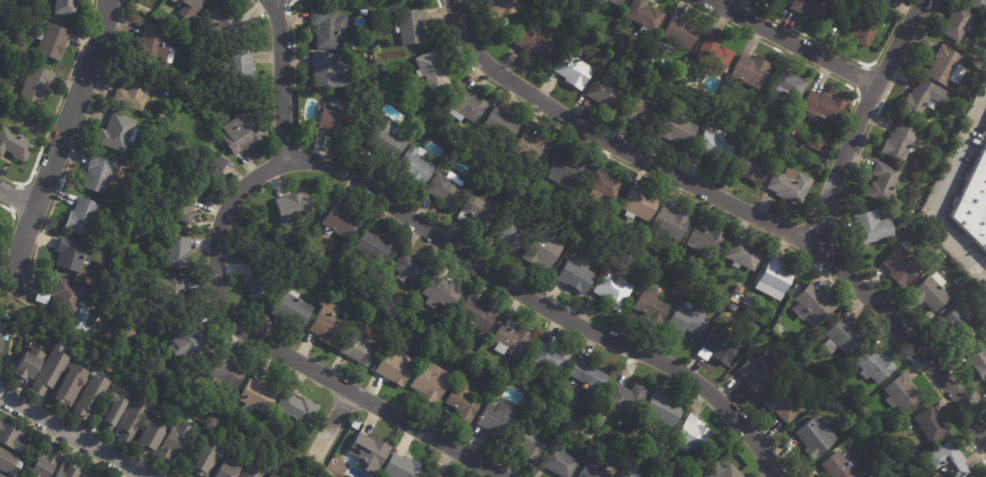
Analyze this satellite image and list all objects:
building: (776, 0)
building: (779, 0)
building: (883, 0)
building: (881, 1)
building: (600, 2)
building: (614, 2)
building: (975, 4)
building: (186, 7)
building: (496, 7)
building: (807, 7)
building: (67, 8)
road: (257, 8)
road: (275, 11)
building: (361, 13)
building: (156, 14)
building: (644, 16)
building: (222, 19)
building: (958, 25)
building: (323, 26)
building: (409, 26)
building: (856, 26)
building: (679, 33)
building: (577, 34)
building: (609, 37)
building: (54, 41)
road: (293, 41)
road: (792, 42)
building: (532, 44)
building: (344, 45)
building: (150, 47)
road: (835, 50)
building: (975, 50)
building: (613, 53)
building: (713, 54)
road: (799, 60)
building: (650, 62)
building: (237, 66)
building: (978, 66)
building: (944, 67)
building: (321, 68)
building: (429, 69)
building: (570, 70)
building: (749, 72)
building: (162, 75)
building: (674, 77)
road: (281, 80)
building: (683, 80)
building: (39, 85)
building: (786, 87)
building: (130, 89)
road: (856, 92)
building: (601, 93)
building: (919, 99)
building: (463, 104)
road: (57, 105)
building: (185, 105)
building: (821, 108)
building: (639, 110)
building: (25, 112)
building: (337, 117)
road: (874, 117)
road: (858, 118)
building: (500, 124)
building: (674, 130)
building: (115, 131)
building: (238, 134)
building: (383, 137)
building: (897, 143)
building: (16, 146)
building: (713, 147)
road: (56, 148)
building: (531, 148)
road: (72, 152)
building: (208, 163)
building: (410, 164)
building: (747, 168)
building: (565, 171)
building: (96, 174)
road: (46, 176)
building: (881, 182)
building: (603, 183)
building: (442, 187)
building: (788, 187)
road: (940, 191)
road: (14, 196)
road: (16, 199)
building: (973, 202)
building: (637, 204)
road: (728, 204)
building: (181, 205)
building: (291, 206)
building: (566, 208)
building: (475, 210)
road: (722, 214)
building: (77, 215)
building: (339, 222)
building: (670, 222)
building: (1, 225)
building: (871, 228)
building: (509, 232)
road: (7, 235)
building: (704, 240)
building: (372, 246)
building: (274, 249)
building: (542, 249)
building: (174, 252)
building: (69, 254)
building: (742, 254)
building: (286, 255)
road: (826, 255)
building: (675, 266)
building: (900, 266)
building: (408, 267)
building: (574, 276)
building: (773, 278)
building: (255, 287)
building: (166, 288)
building: (610, 288)
building: (674, 290)
building: (438, 291)
building: (927, 295)
building: (39, 297)
building: (67, 297)
building: (359, 298)
building: (383, 298)
building: (746, 298)
building: (811, 303)
road: (539, 304)
building: (649, 304)
building: (736, 308)
building: (290, 309)
road: (29, 310)
building: (474, 315)
building: (407, 316)
building: (391, 319)
building: (686, 319)
building: (957, 324)
building: (985, 324)
building: (325, 325)
building: (780, 325)
building: (126, 333)
building: (840, 337)
building: (2, 338)
building: (183, 338)
building: (508, 338)
building: (984, 339)
road: (10, 341)
building: (420, 345)
building: (717, 345)
building: (355, 347)
road: (280, 352)
building: (415, 353)
building: (468, 353)
building: (548, 358)
building: (454, 360)
building: (978, 362)
building: (872, 364)
building: (24, 366)
building: (393, 366)
building: (463, 367)
building: (46, 370)
building: (224, 371)
building: (507, 373)
building: (753, 373)
building: (586, 376)
road: (1, 382)
building: (428, 382)
road: (1, 385)
building: (68, 385)
building: (900, 393)
building: (88, 395)
building: (256, 397)
building: (625, 397)
building: (460, 401)
building: (838, 402)
building: (781, 405)
building: (110, 408)
building: (294, 408)
building: (864, 409)
building: (660, 410)
building: (492, 417)
building: (132, 419)
building: (596, 419)
building: (856, 422)
building: (928, 425)
road: (329, 428)
building: (690, 434)
building: (10, 436)
road: (73, 436)
building: (151, 436)
building: (813, 436)
building: (525, 441)
road: (61, 442)
building: (170, 442)
building: (366, 452)
building: (204, 457)
building: (6, 460)
building: (948, 460)
building: (554, 461)
building: (39, 463)
building: (877, 463)
building: (836, 466)
building: (400, 467)
building: (226, 468)
building: (250, 468)
building: (587, 468)
building: (65, 469)
building: (717, 470)
building: (886, 471)
building: (90, 474)
building: (625, 474)
building: (434, 475)
building: (1, 476)
building: (268, 476)

